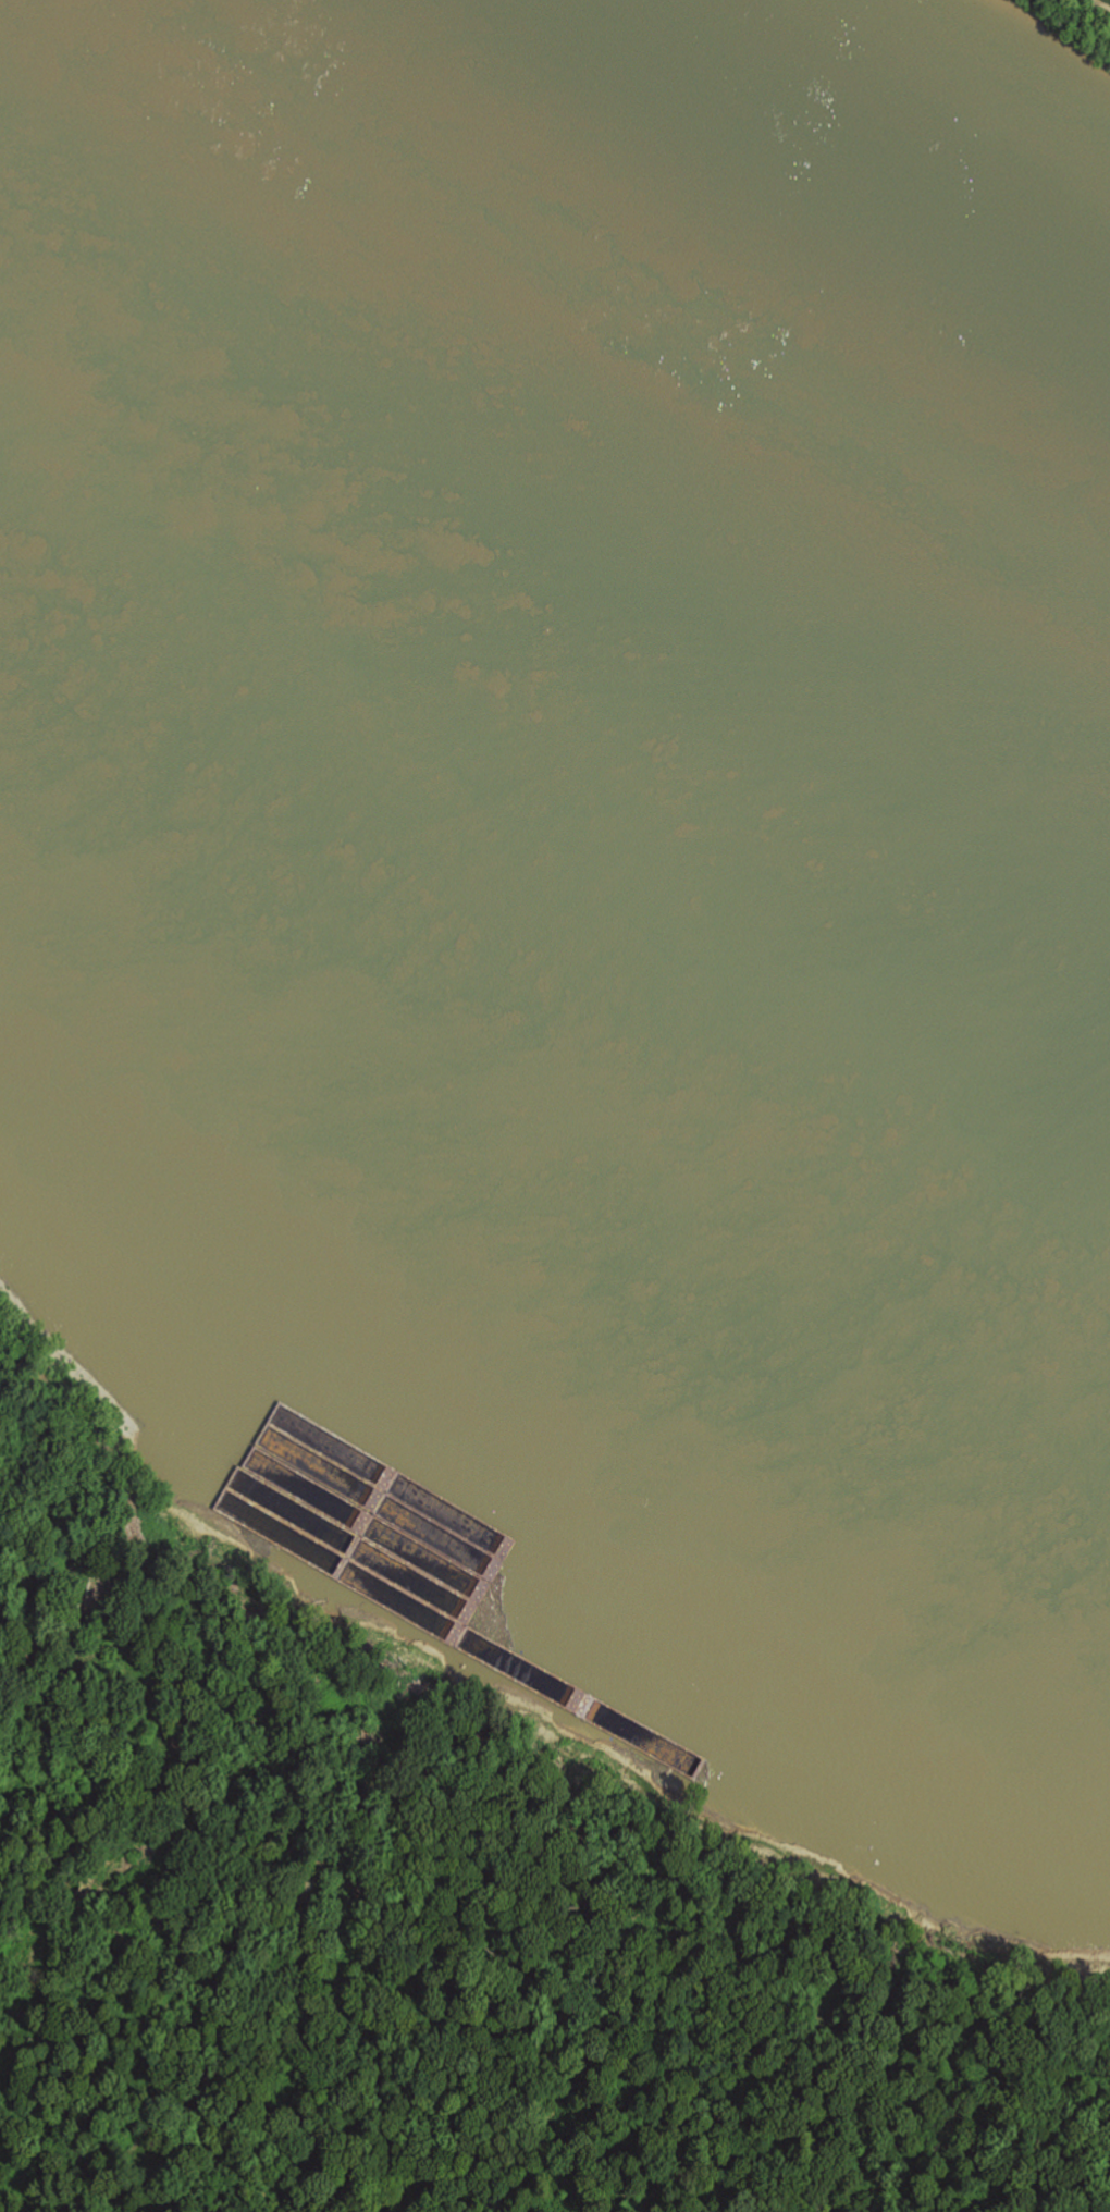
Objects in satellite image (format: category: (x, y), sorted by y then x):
river: (530, 709)

